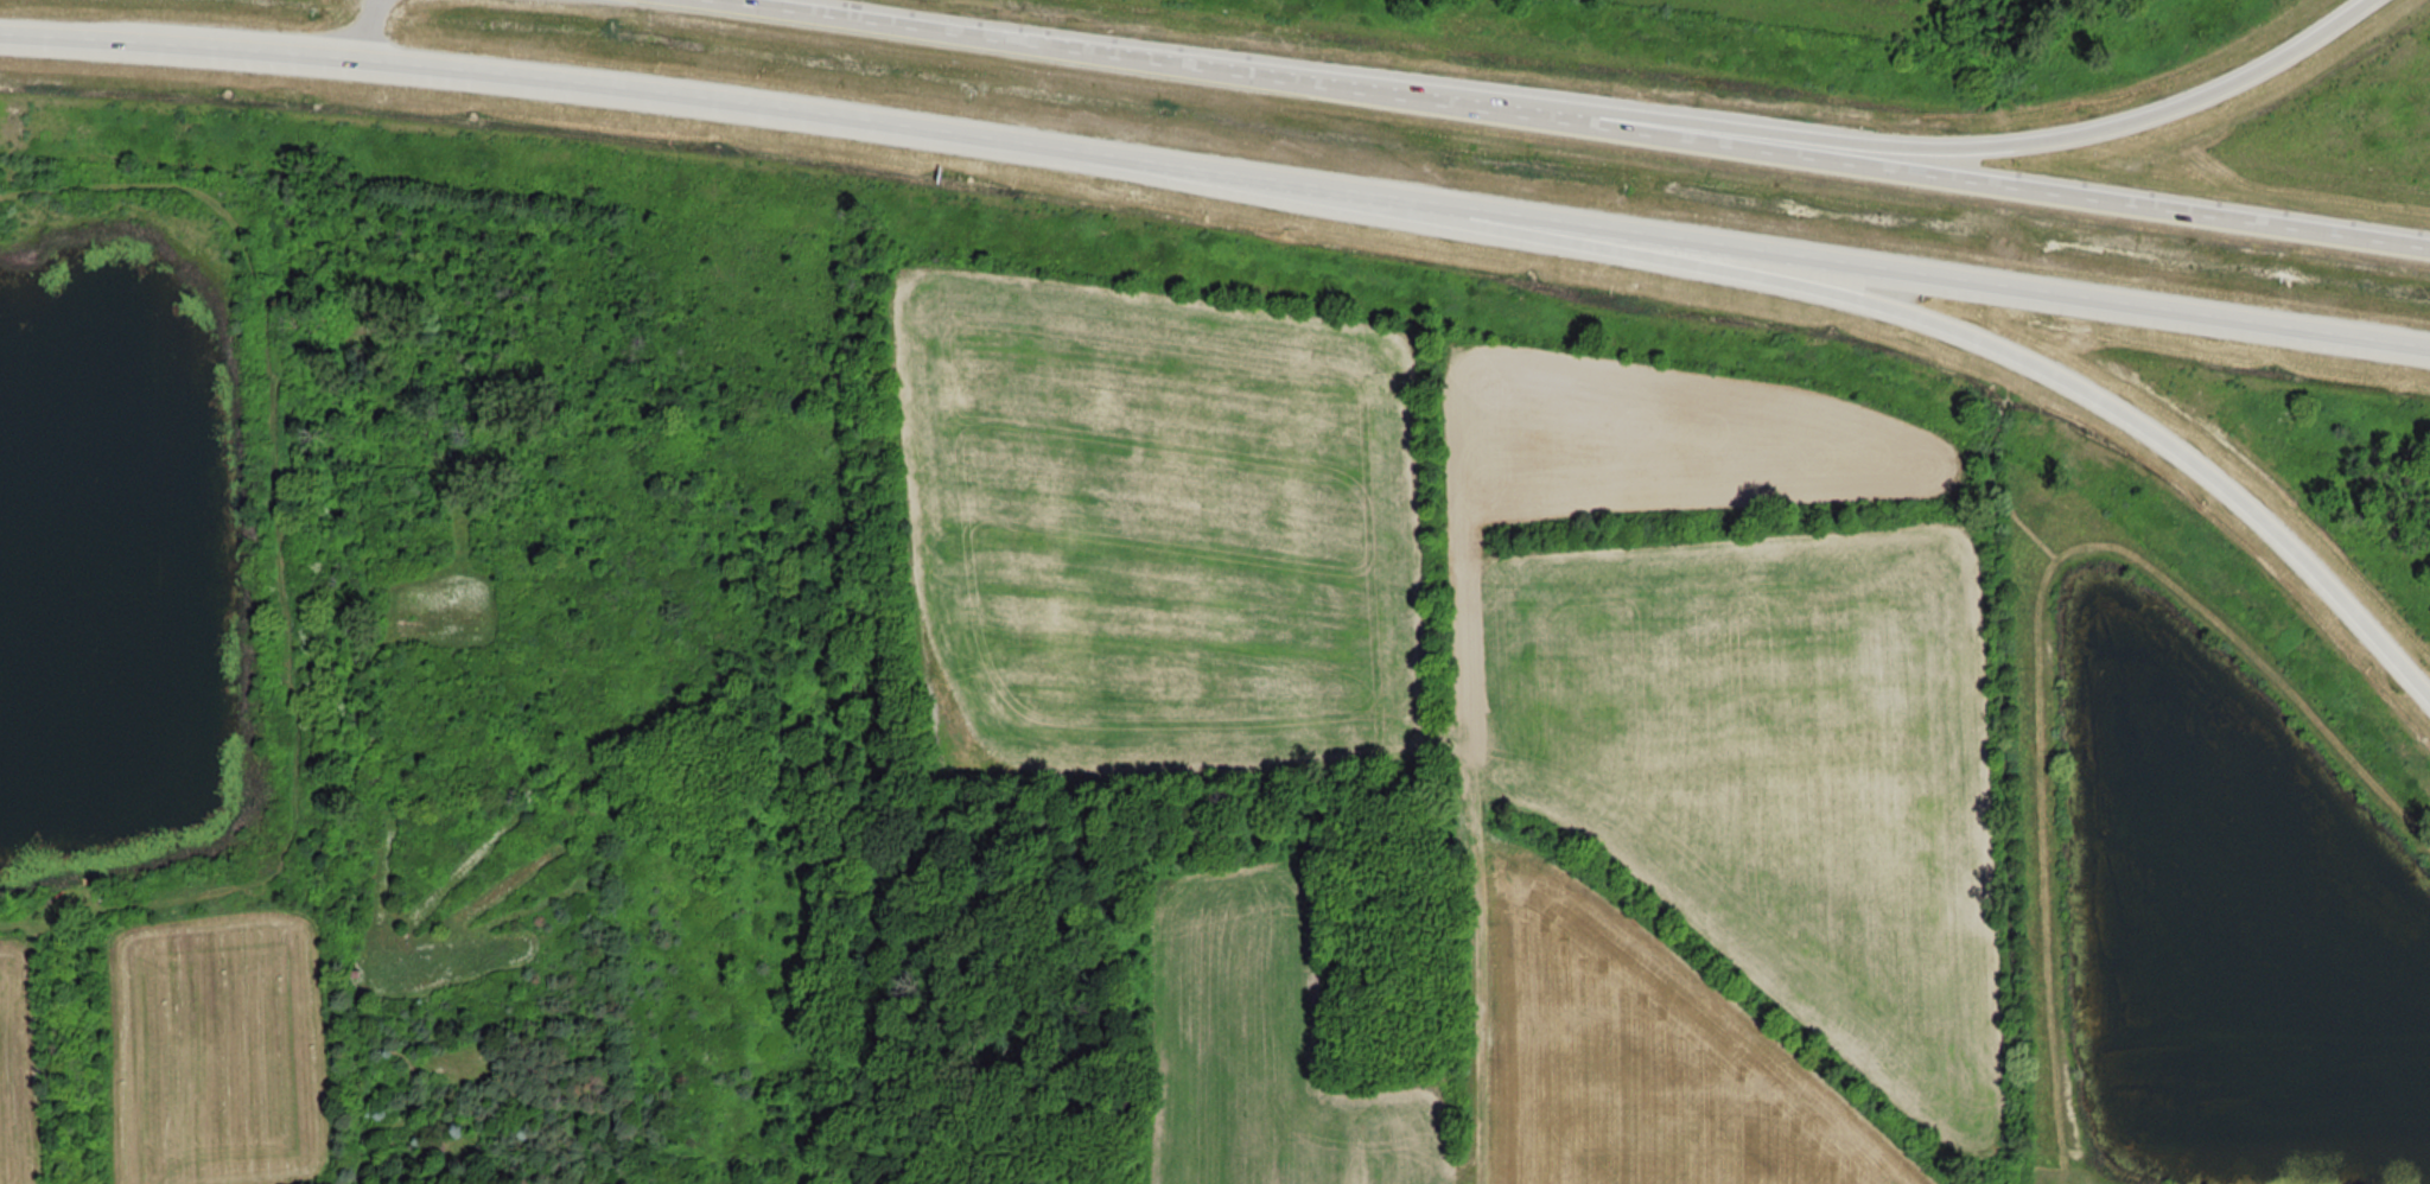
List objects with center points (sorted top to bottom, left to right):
road: (371, 30)
road: (1556, 123)
road: (2017, 142)
road: (1216, 173)
road: (1963, 340)

